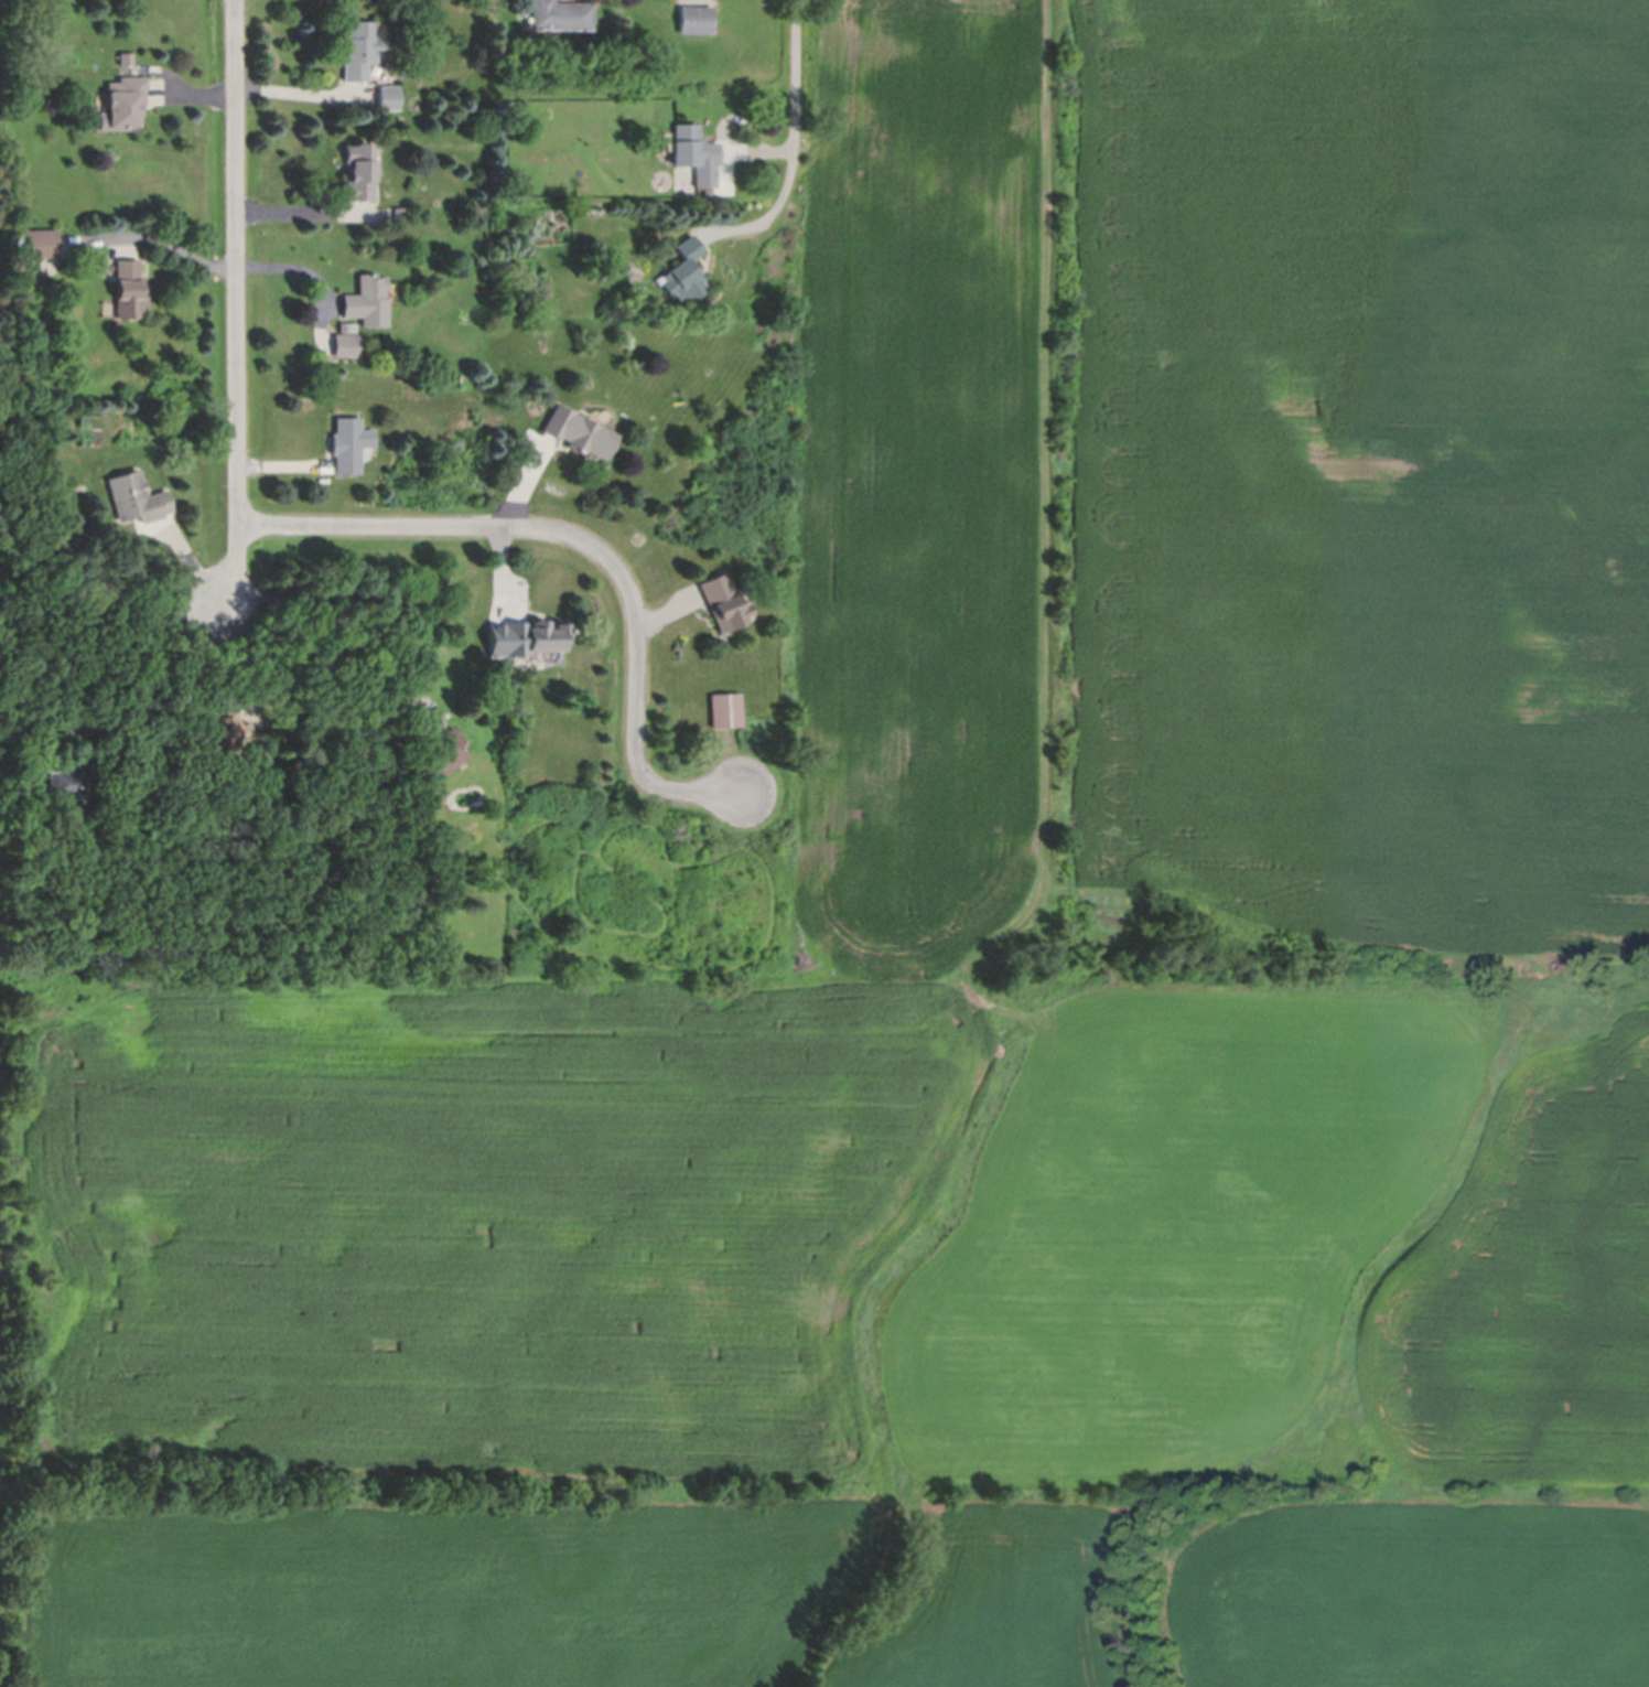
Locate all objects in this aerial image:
building: (562, 12)
building: (694, 15)
building: (360, 46)
building: (125, 55)
road: (303, 89)
building: (389, 95)
building: (123, 100)
road: (802, 148)
building: (696, 150)
building: (358, 168)
road: (301, 209)
building: (399, 211)
building: (35, 240)
road: (169, 248)
road: (290, 266)
building: (685, 269)
building: (128, 287)
building: (368, 299)
road: (238, 304)
building: (346, 339)
building: (578, 429)
building: (349, 442)
building: (136, 495)
road: (590, 546)
building: (723, 601)
building: (532, 634)
road: (326, 636)
road: (108, 642)
building: (726, 708)
building: (224, 722)
building: (433, 757)
building: (71, 777)

